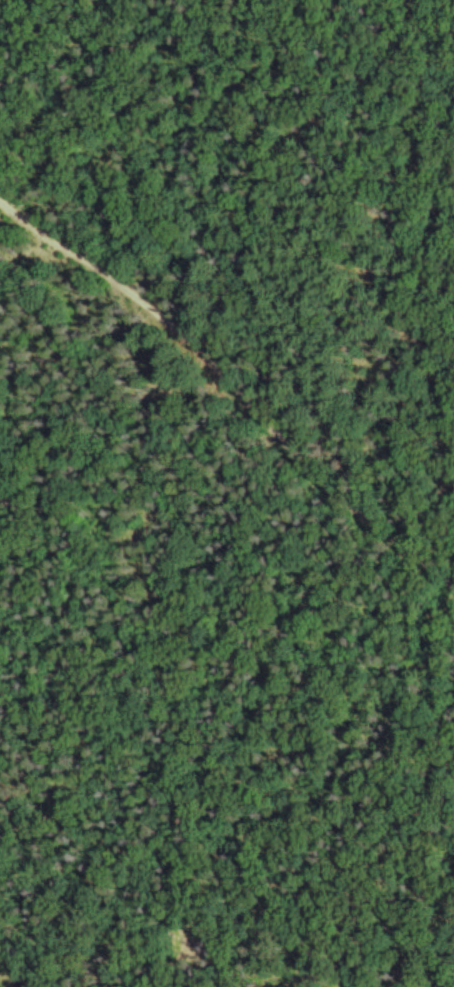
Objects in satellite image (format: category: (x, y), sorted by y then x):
road: (233, 385)

